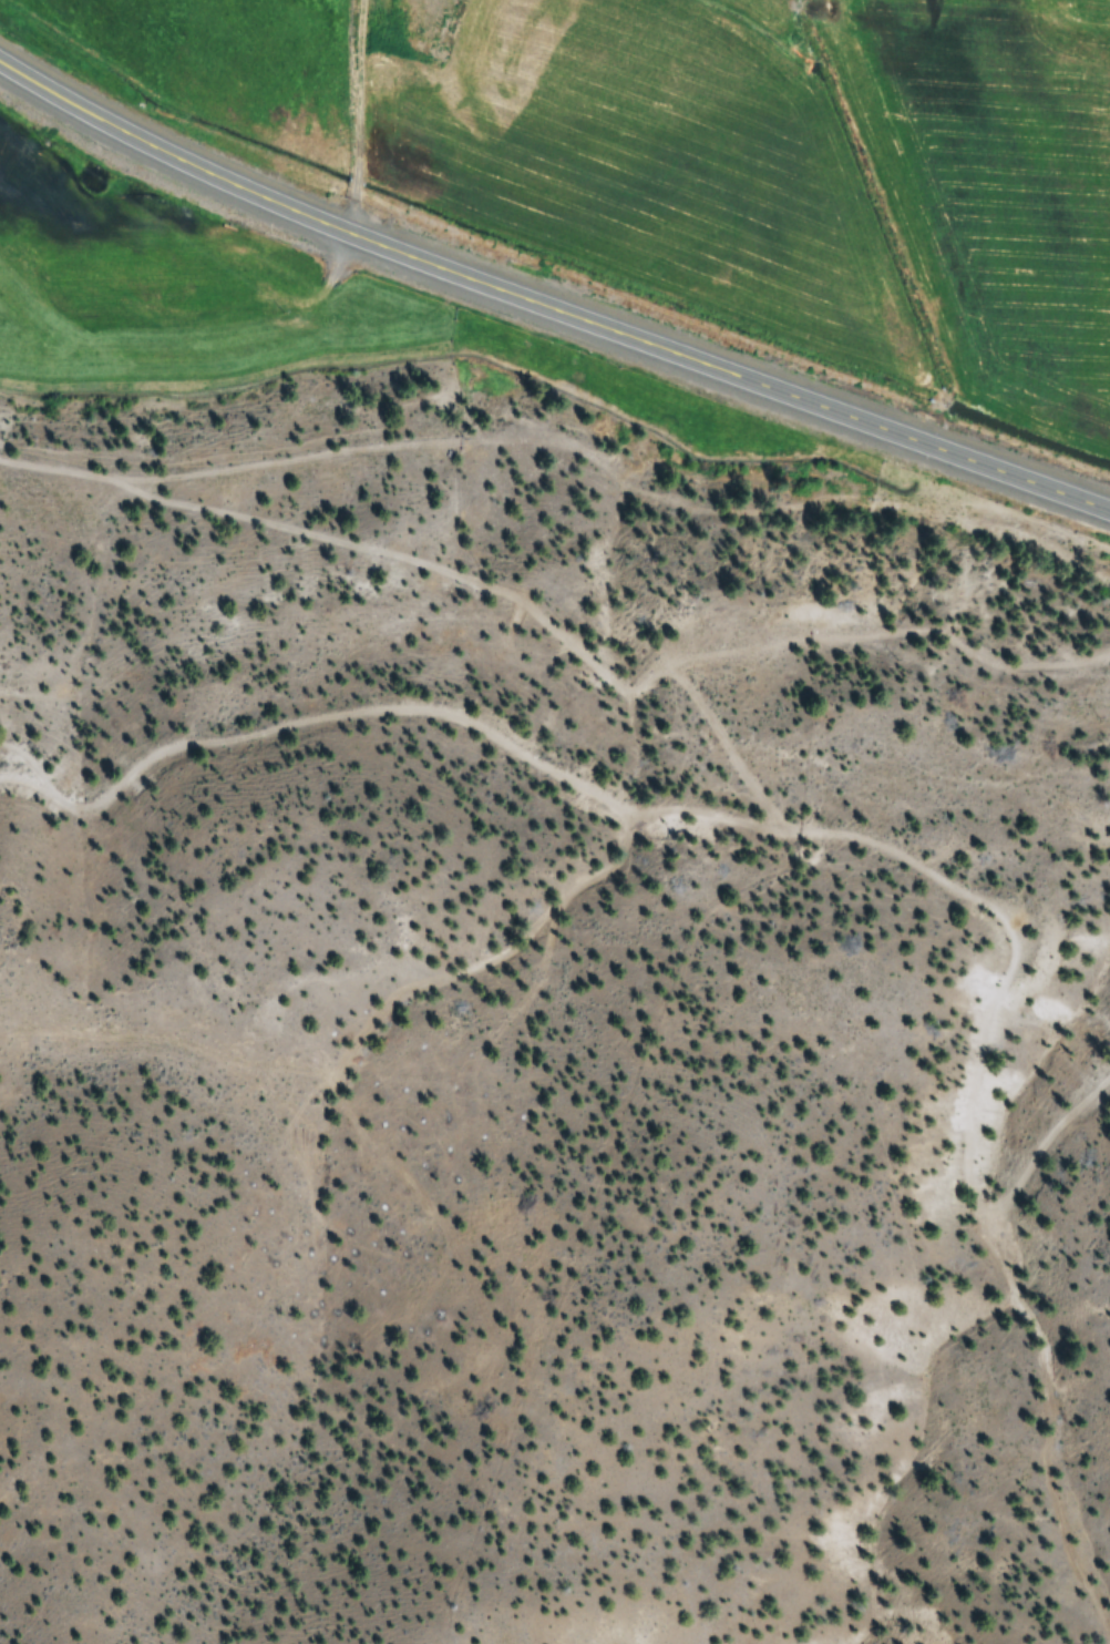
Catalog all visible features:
road: (544, 306)

